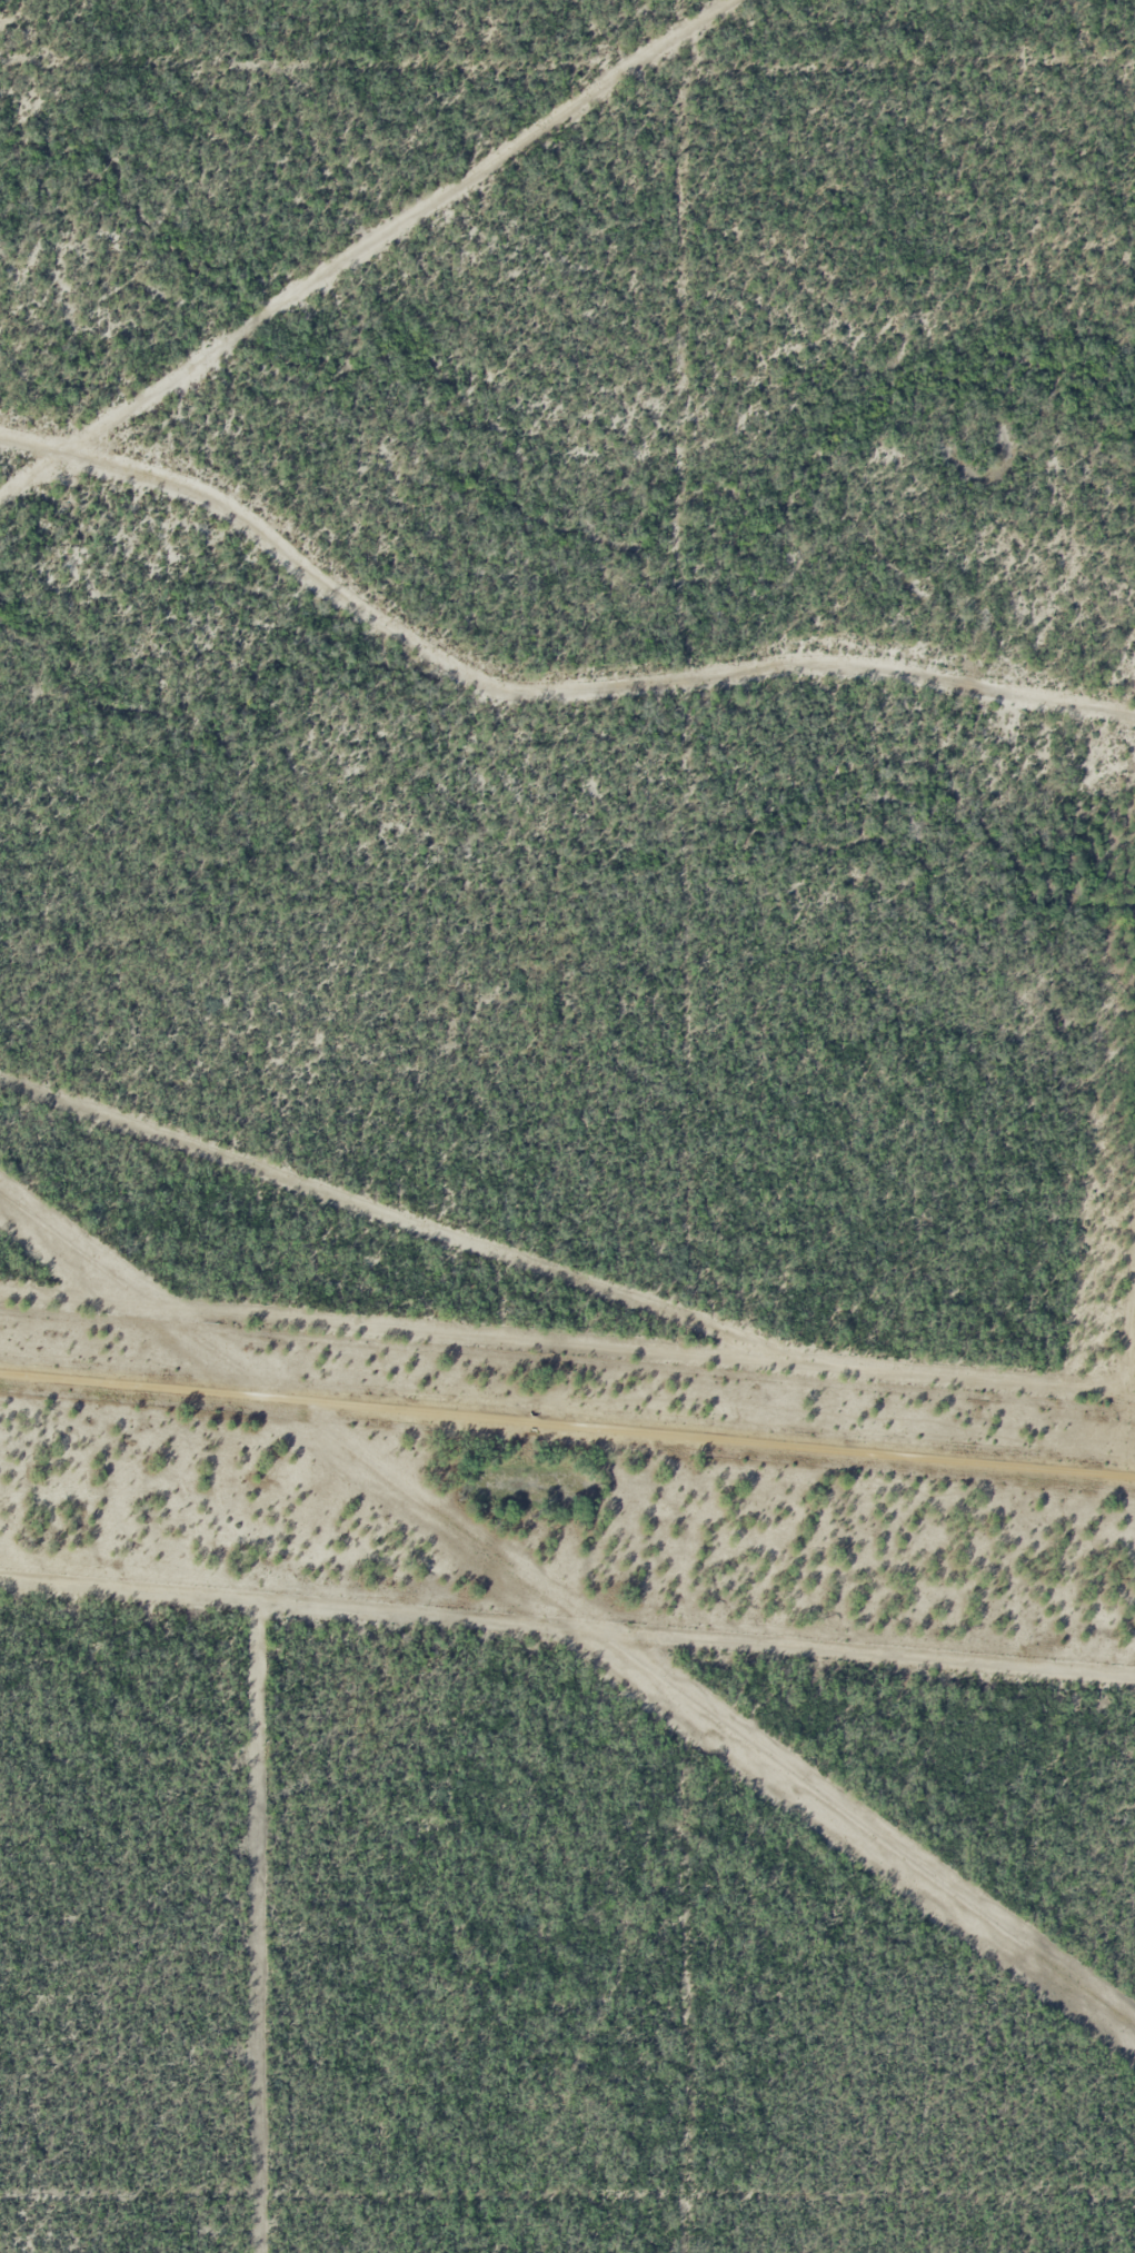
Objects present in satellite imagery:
road: (567, 1423)

